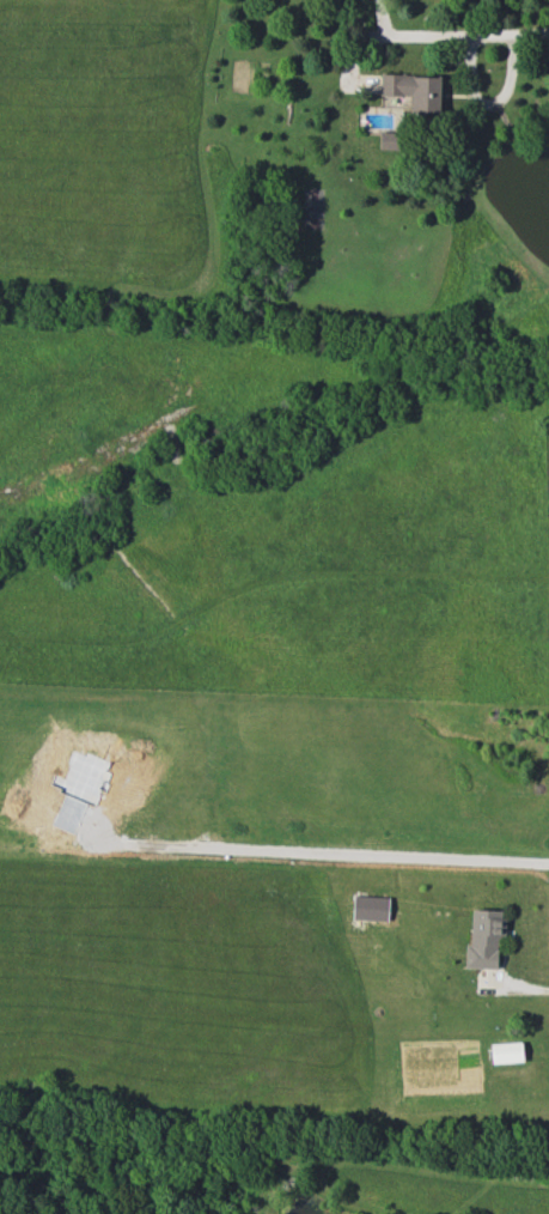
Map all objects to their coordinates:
road: (433, 34)
building: (415, 92)
building: (390, 140)
road: (318, 855)
building: (370, 909)
building: (484, 939)
road: (520, 982)
building: (506, 1052)

